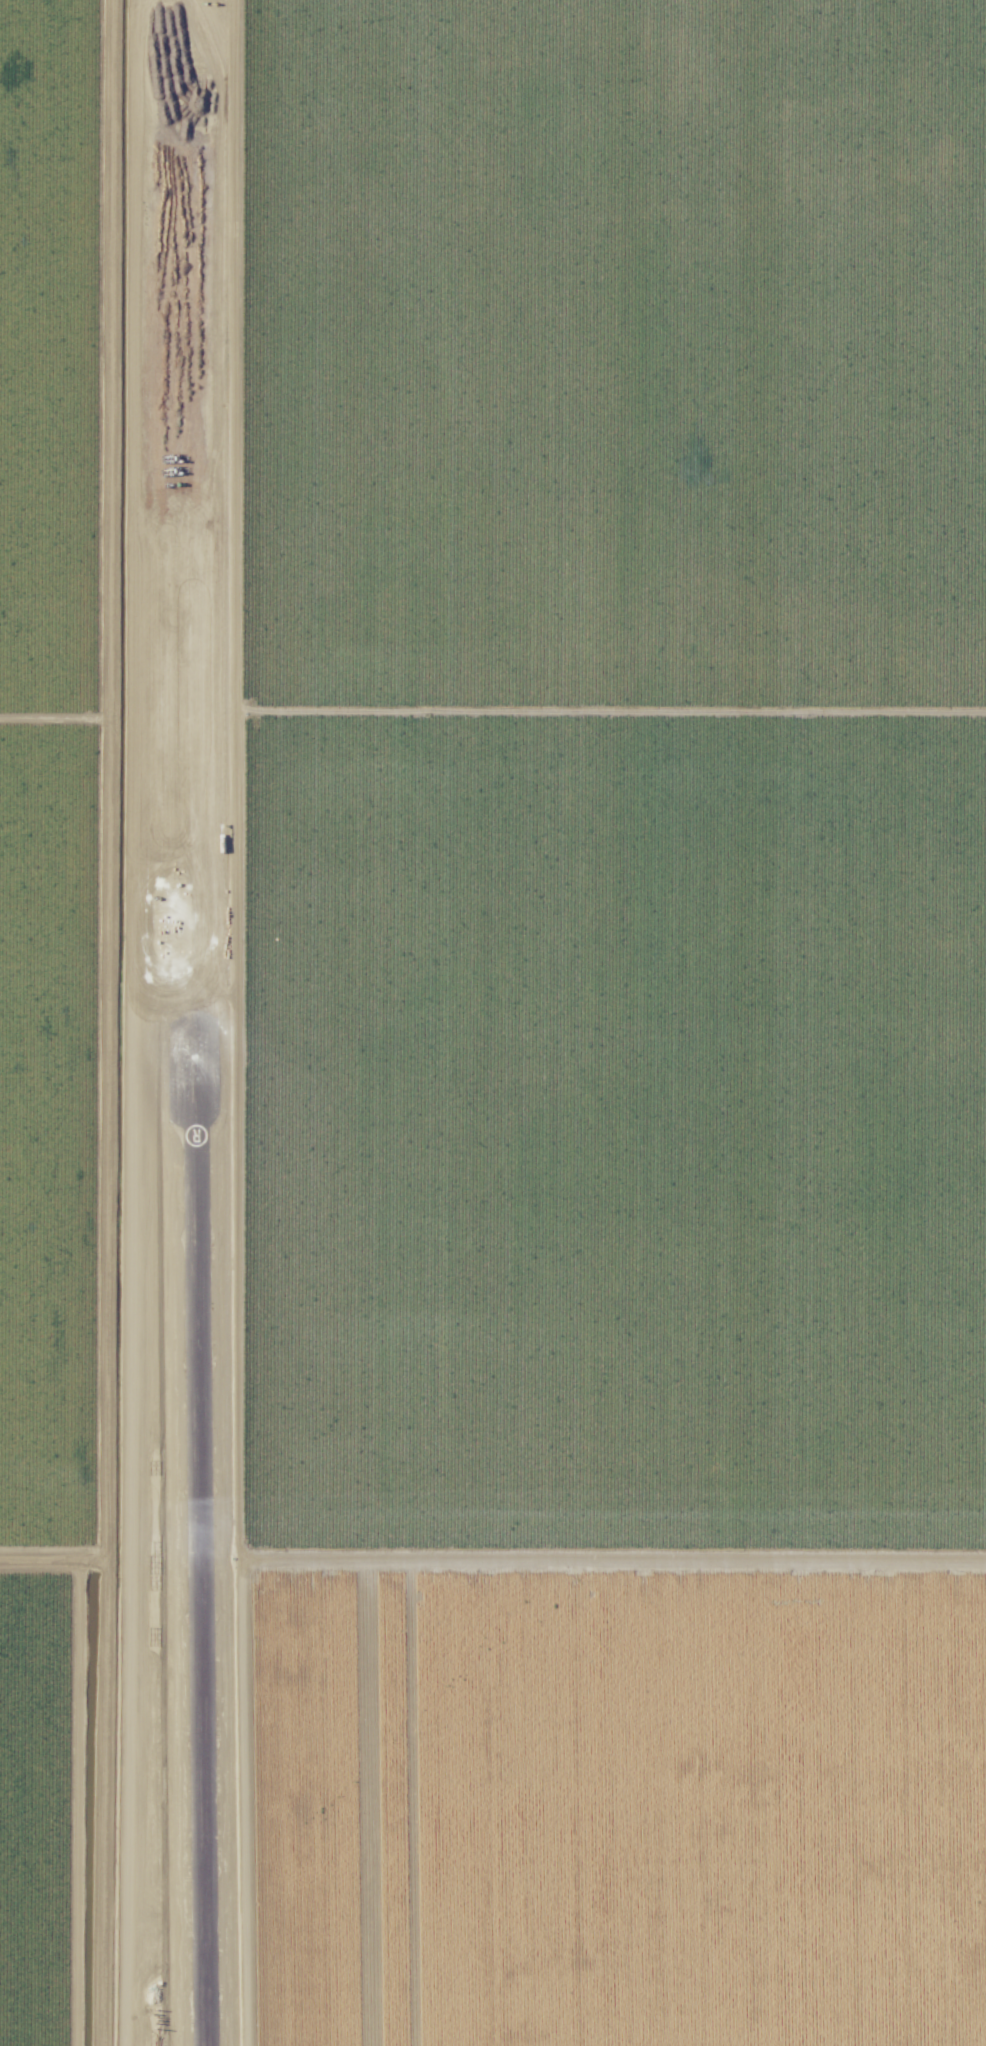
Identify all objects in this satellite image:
crop: (56, 767)
road: (114, 1023)
crop: (53, 1808)

